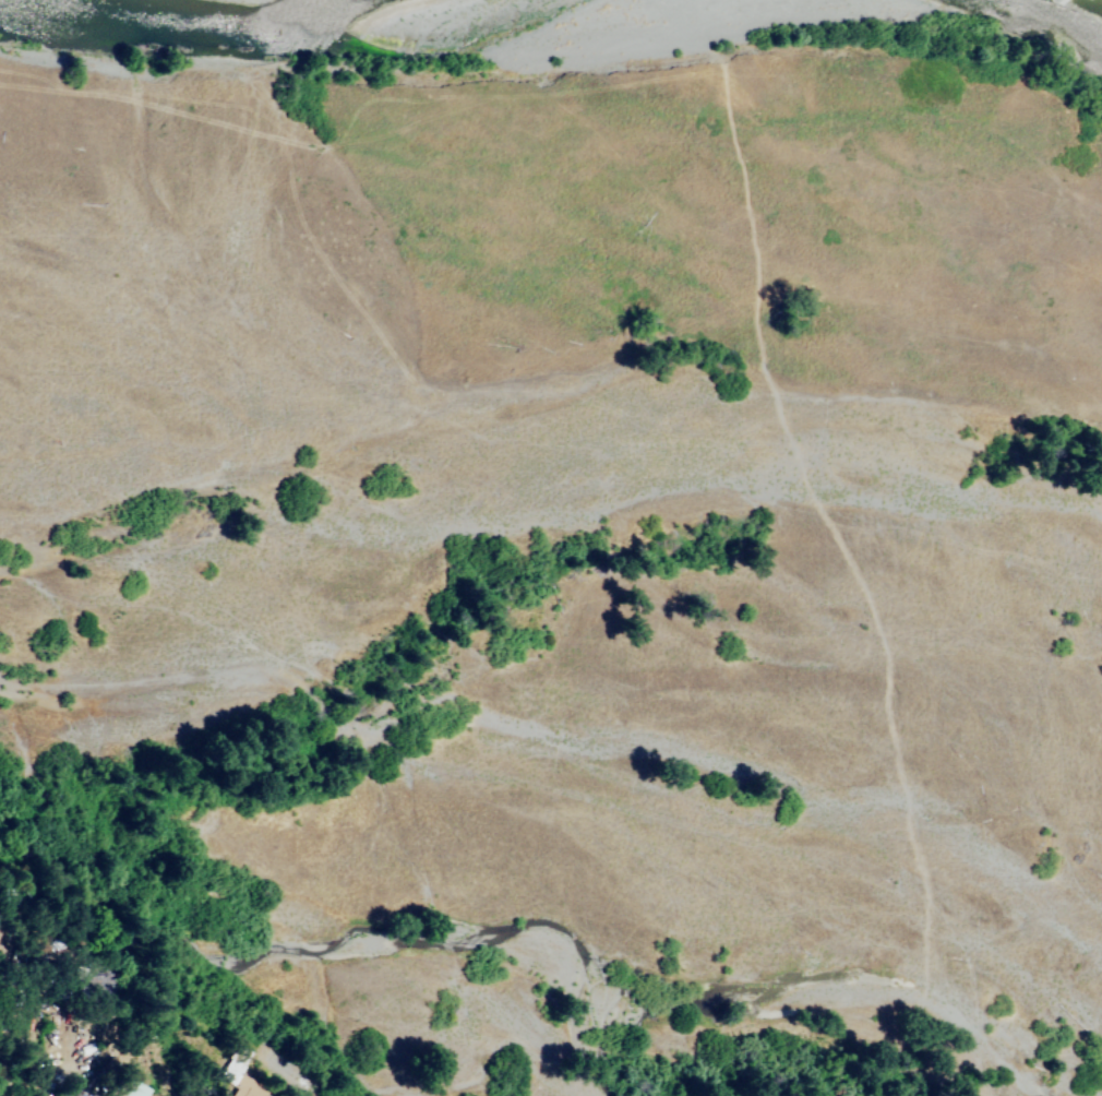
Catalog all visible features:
river: (91, 900)
river: (657, 988)
road: (35, 1067)
building: (132, 1089)
building: (245, 1091)

